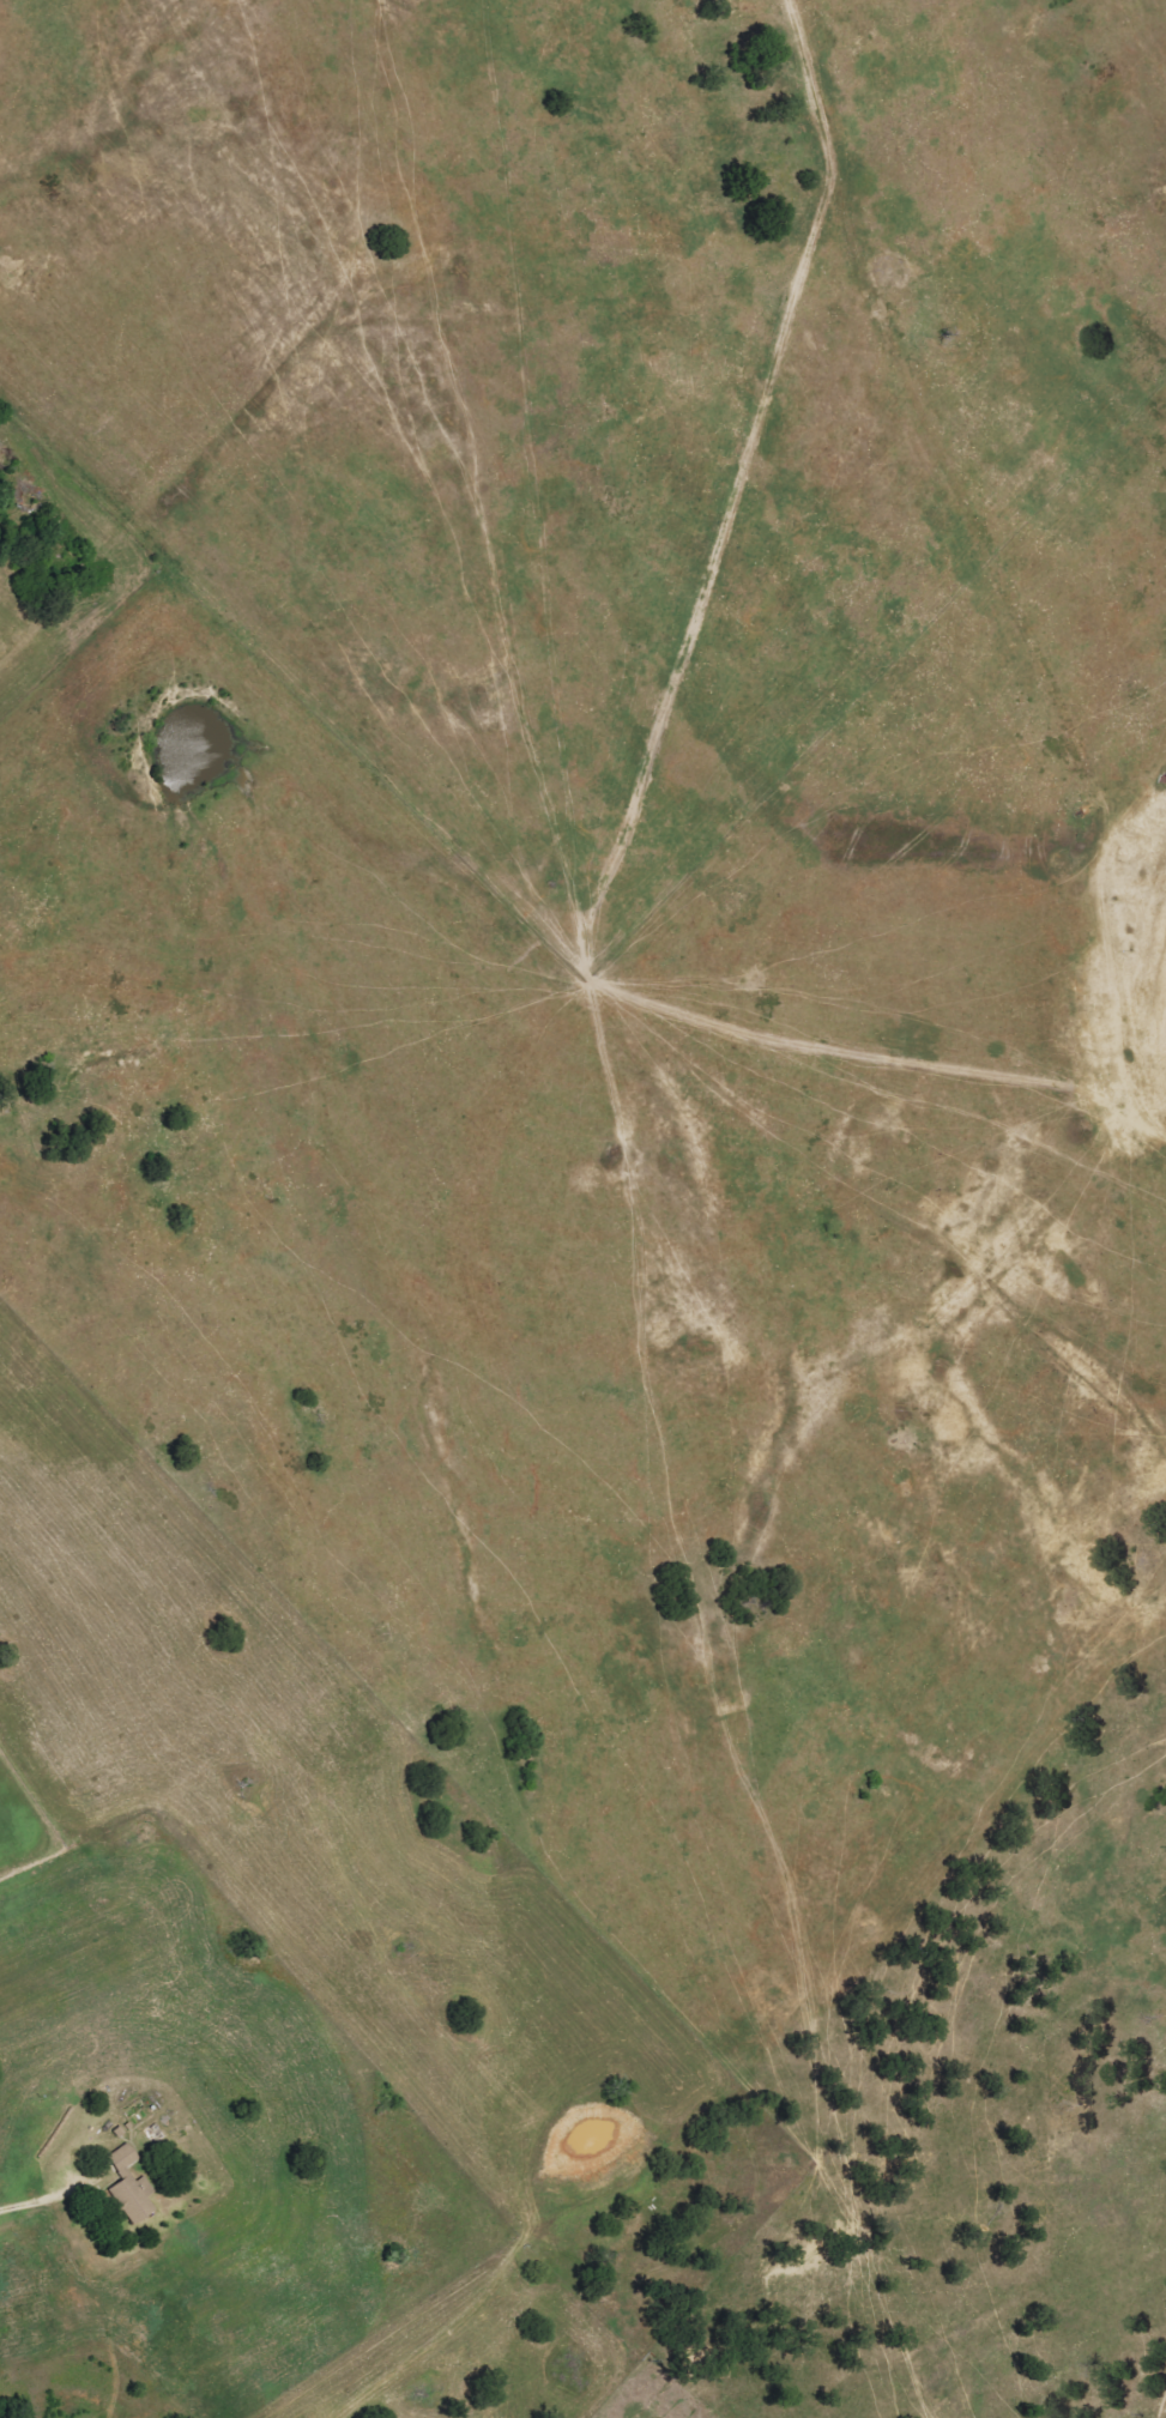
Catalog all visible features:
building: (128, 2186)
road: (30, 2202)

